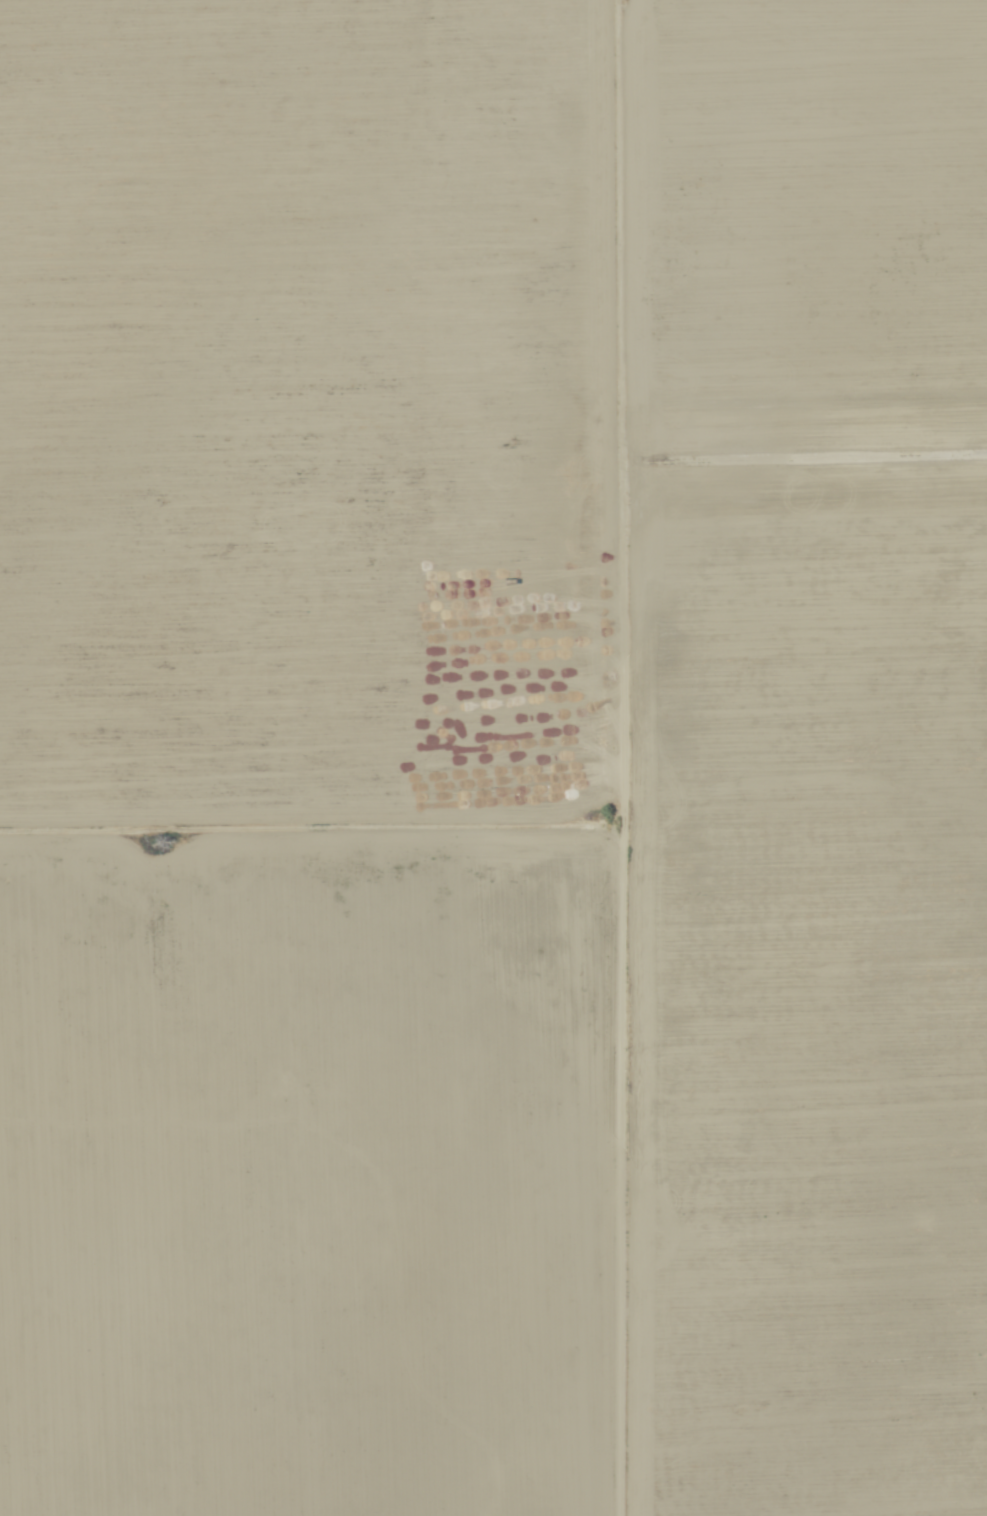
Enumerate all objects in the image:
road: (306, 81)
road: (805, 488)
road: (613, 766)
road: (304, 879)

